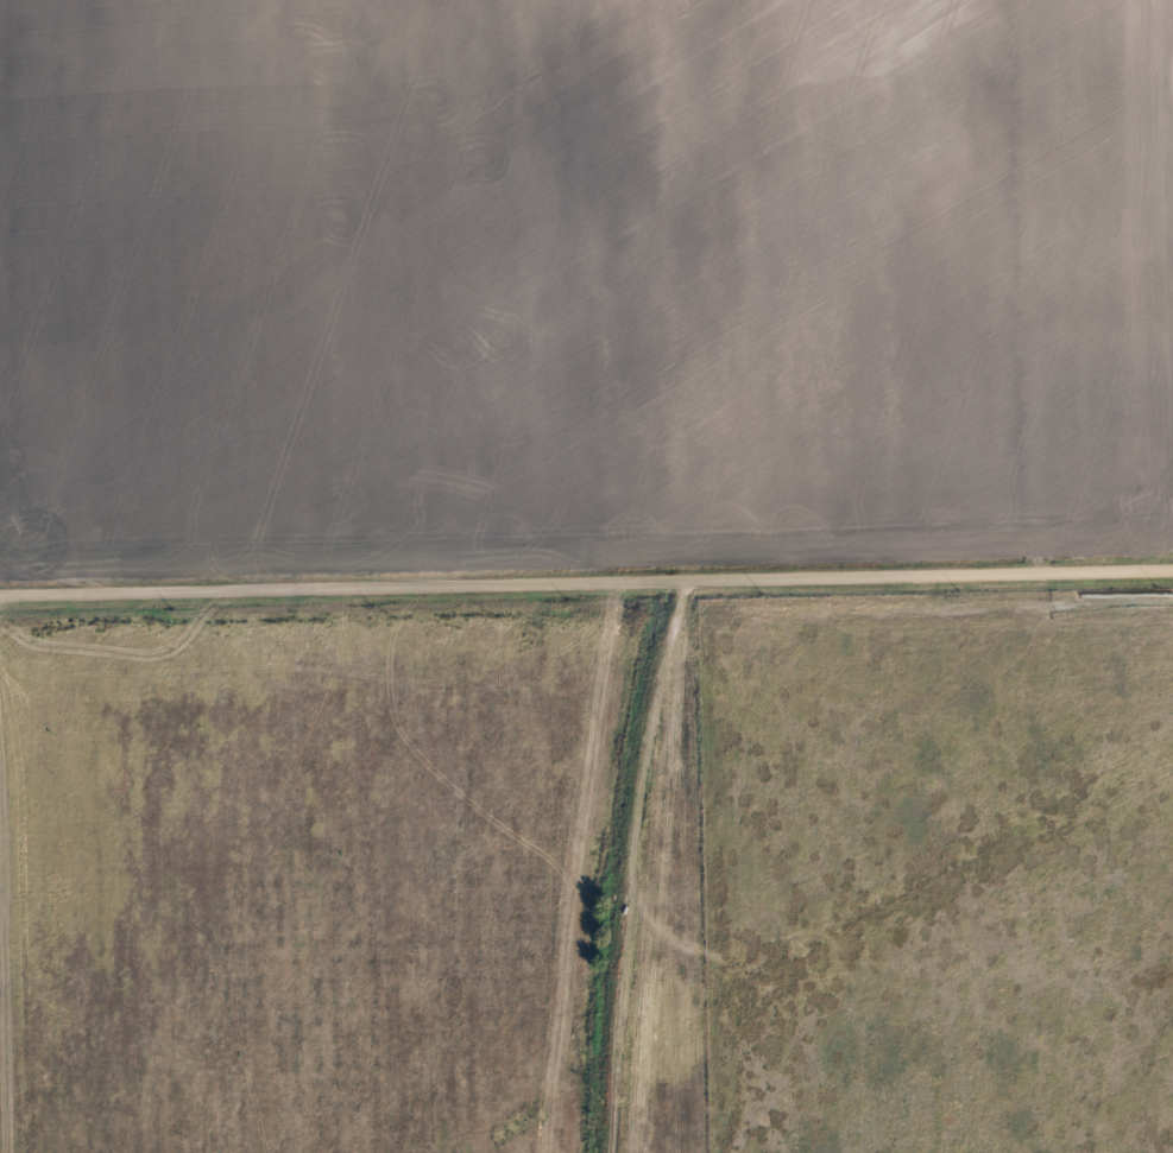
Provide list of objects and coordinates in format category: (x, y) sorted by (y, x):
road: (586, 583)

